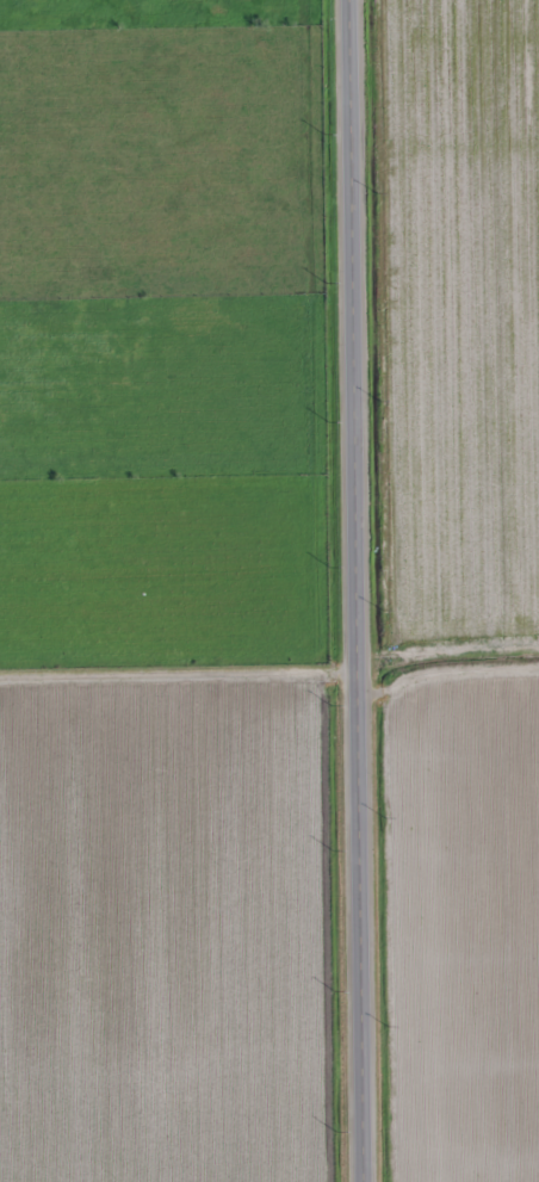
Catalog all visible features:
road: (354, 590)

